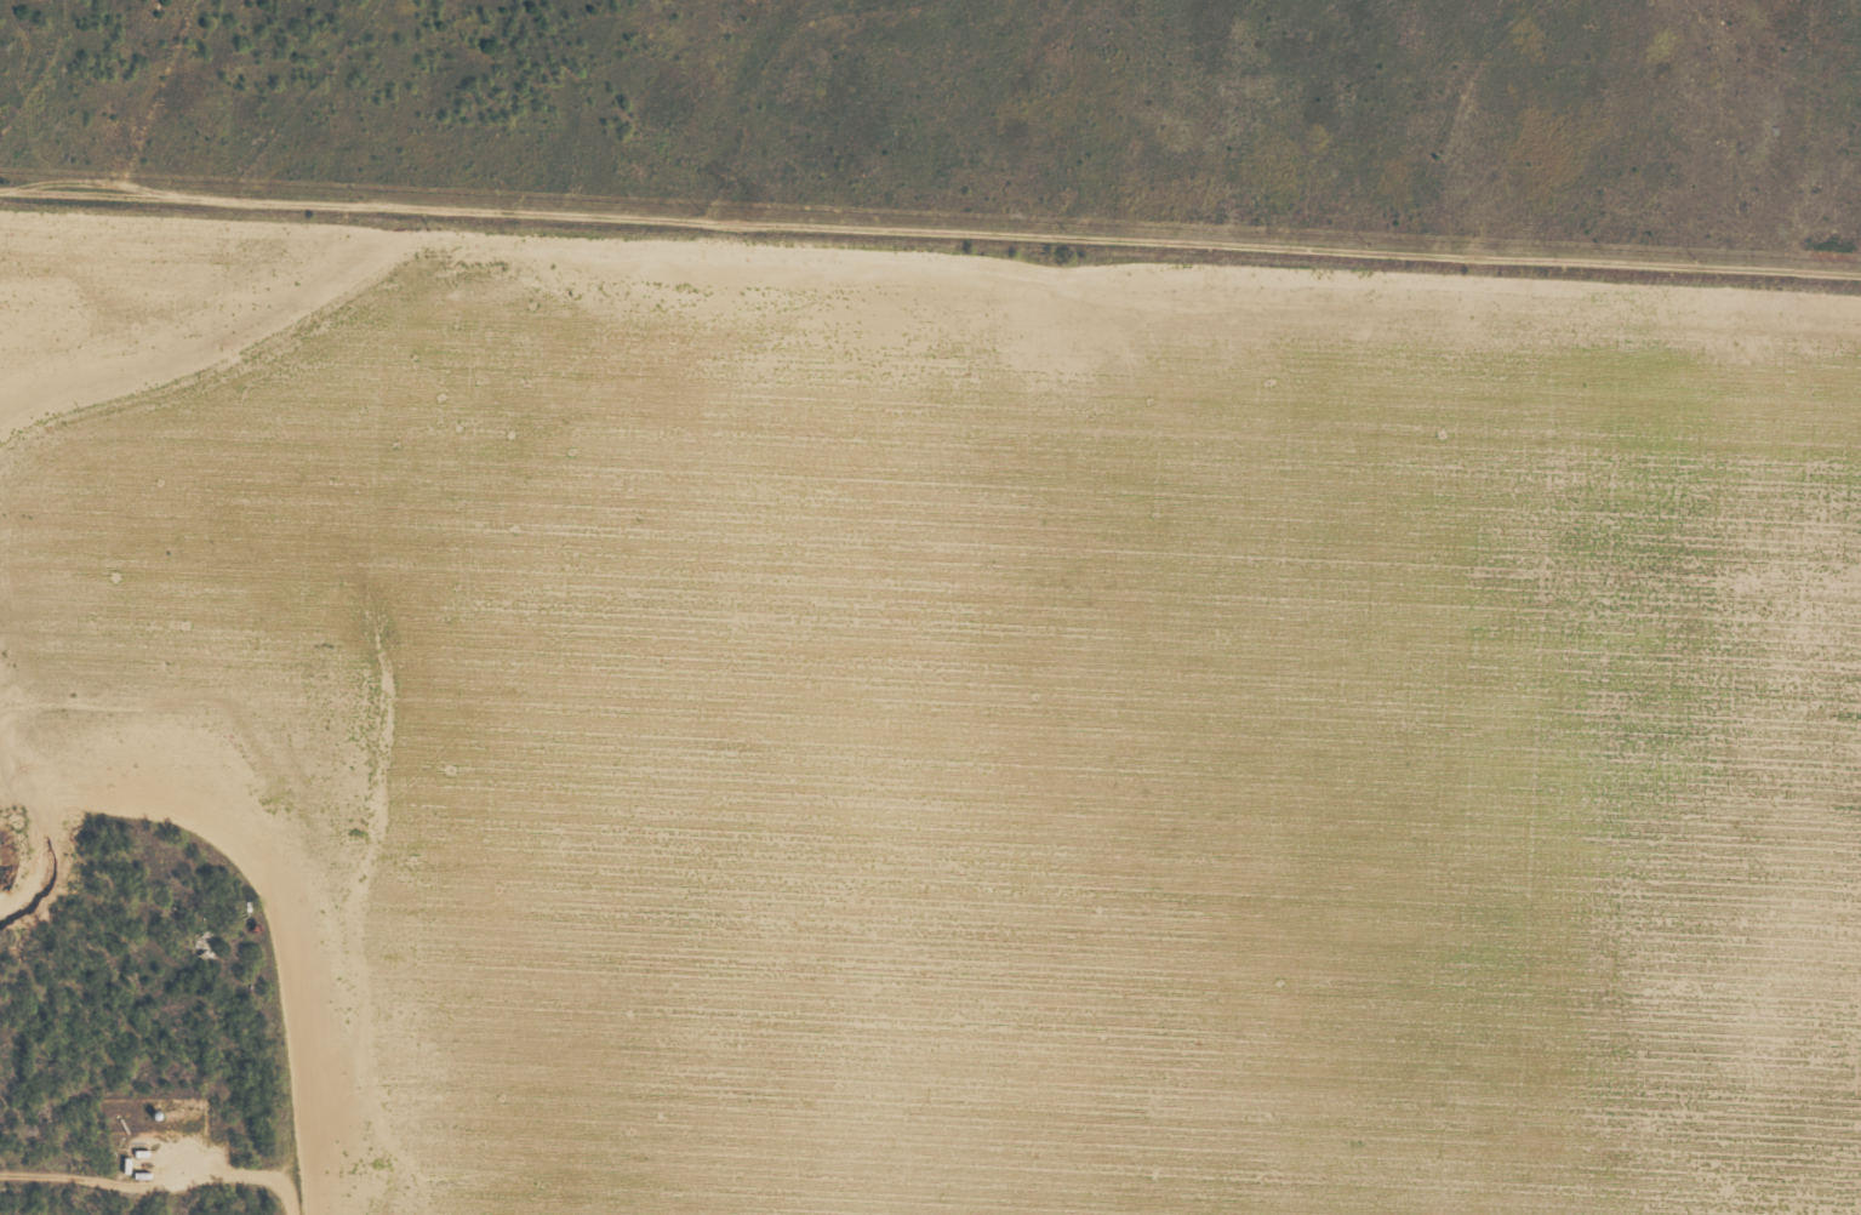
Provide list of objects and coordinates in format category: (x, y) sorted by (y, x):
road: (930, 257)
road: (5, 389)
road: (218, 969)

